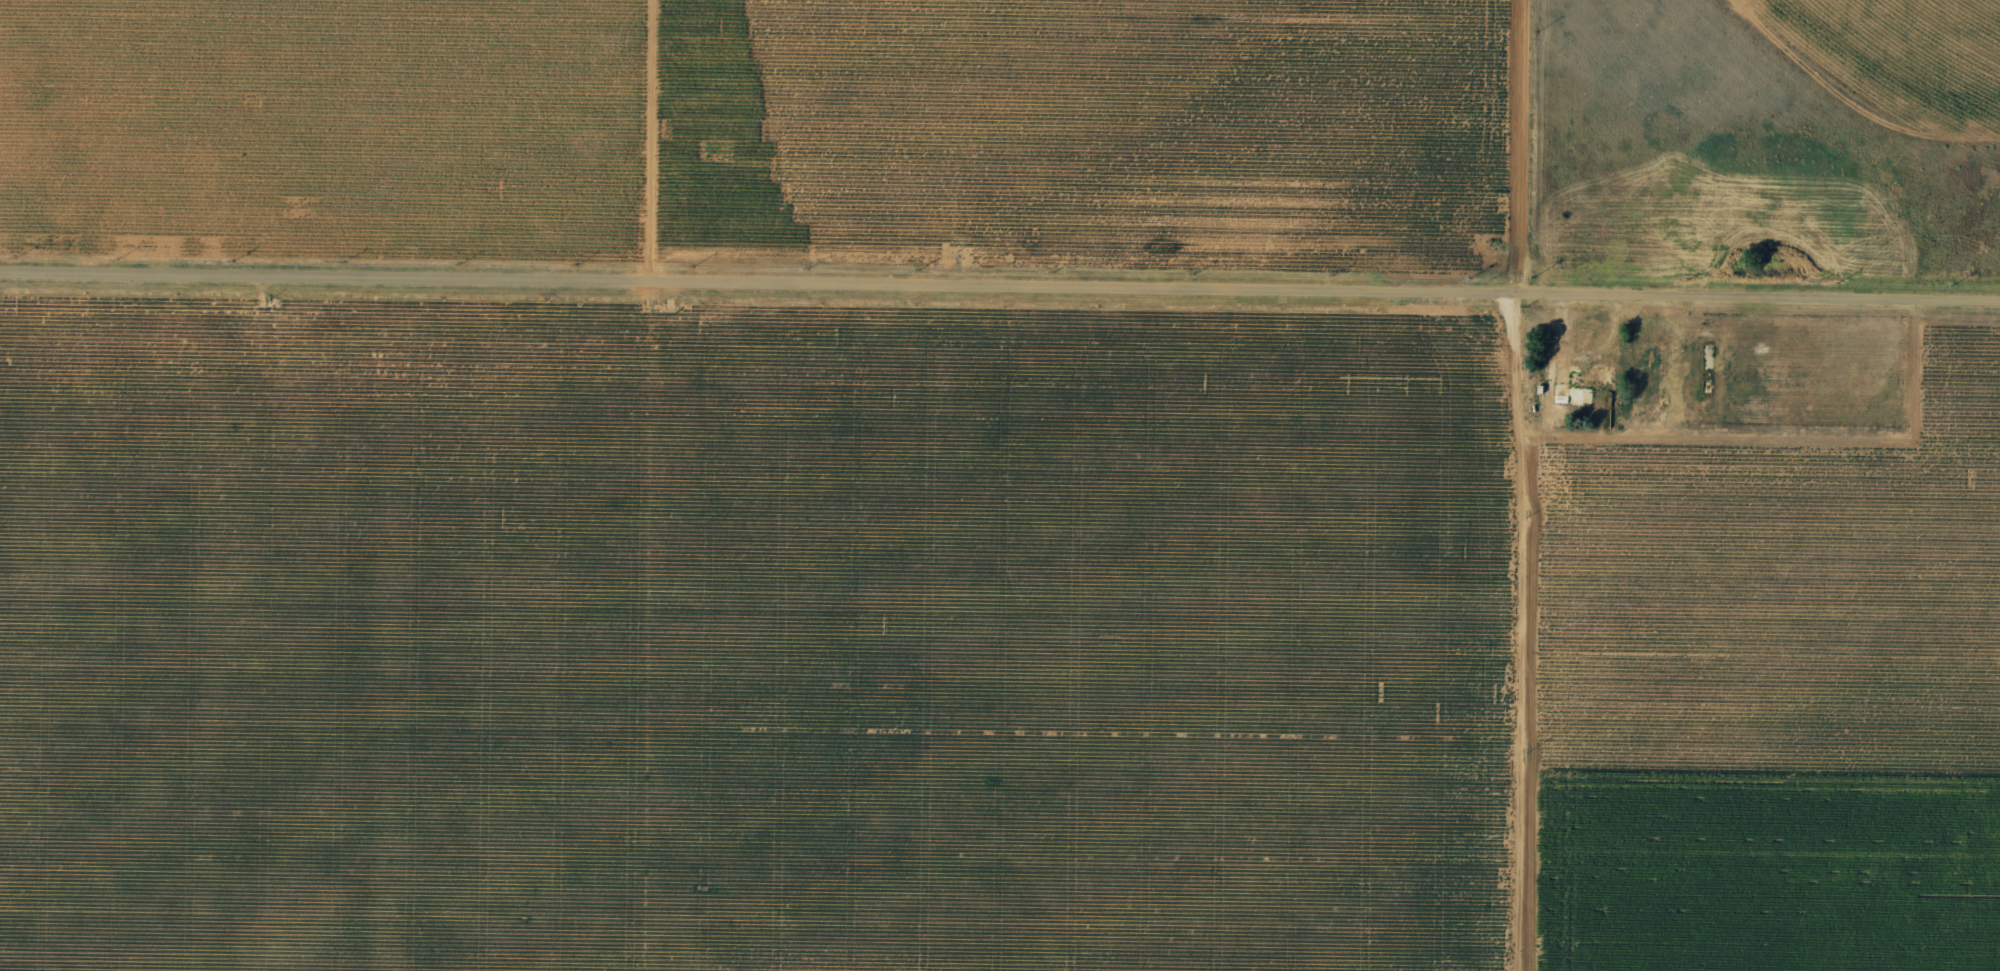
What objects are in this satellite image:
road: (1544, 144)
road: (771, 279)
road: (1771, 292)

